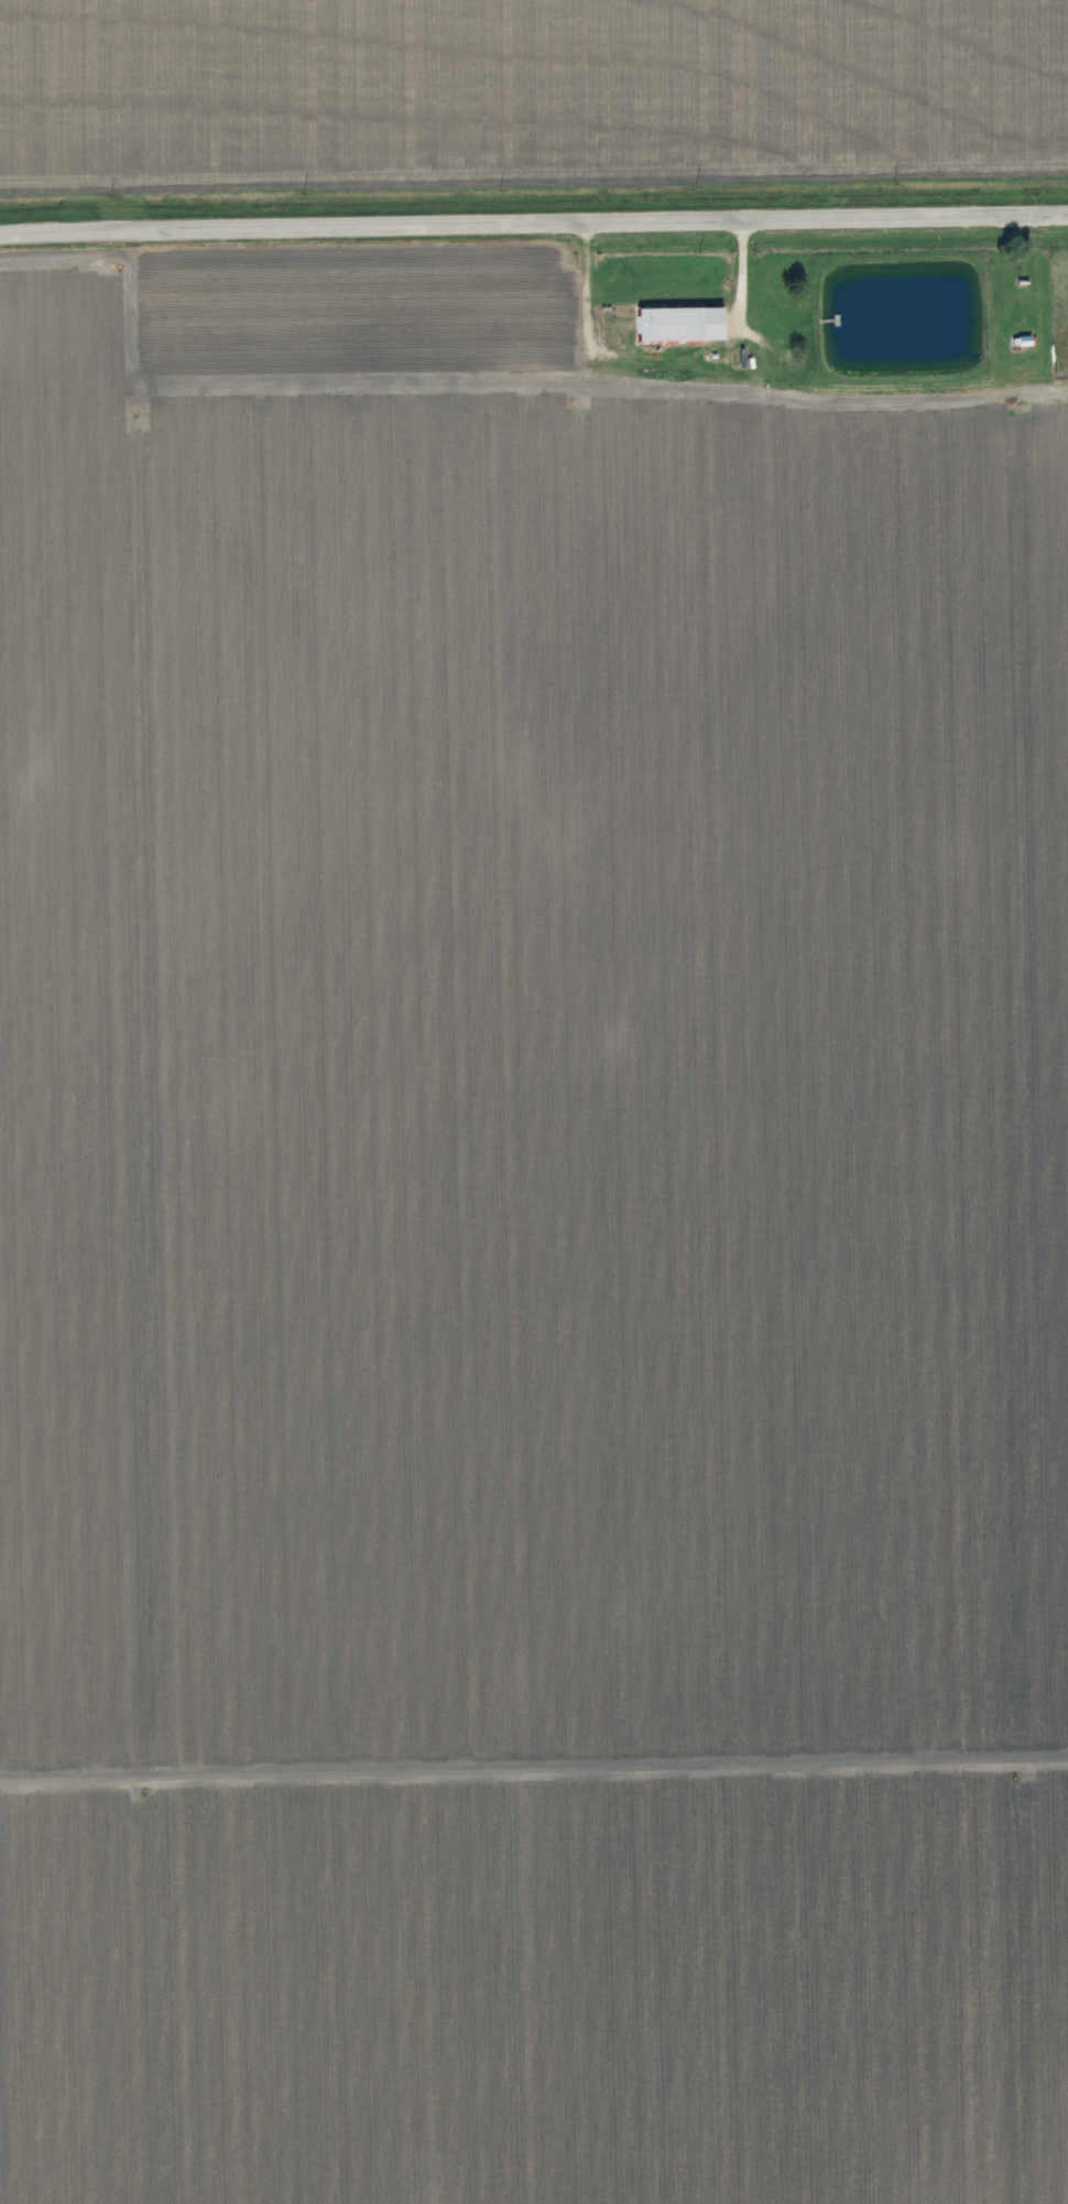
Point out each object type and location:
road: (534, 228)
building: (667, 325)

